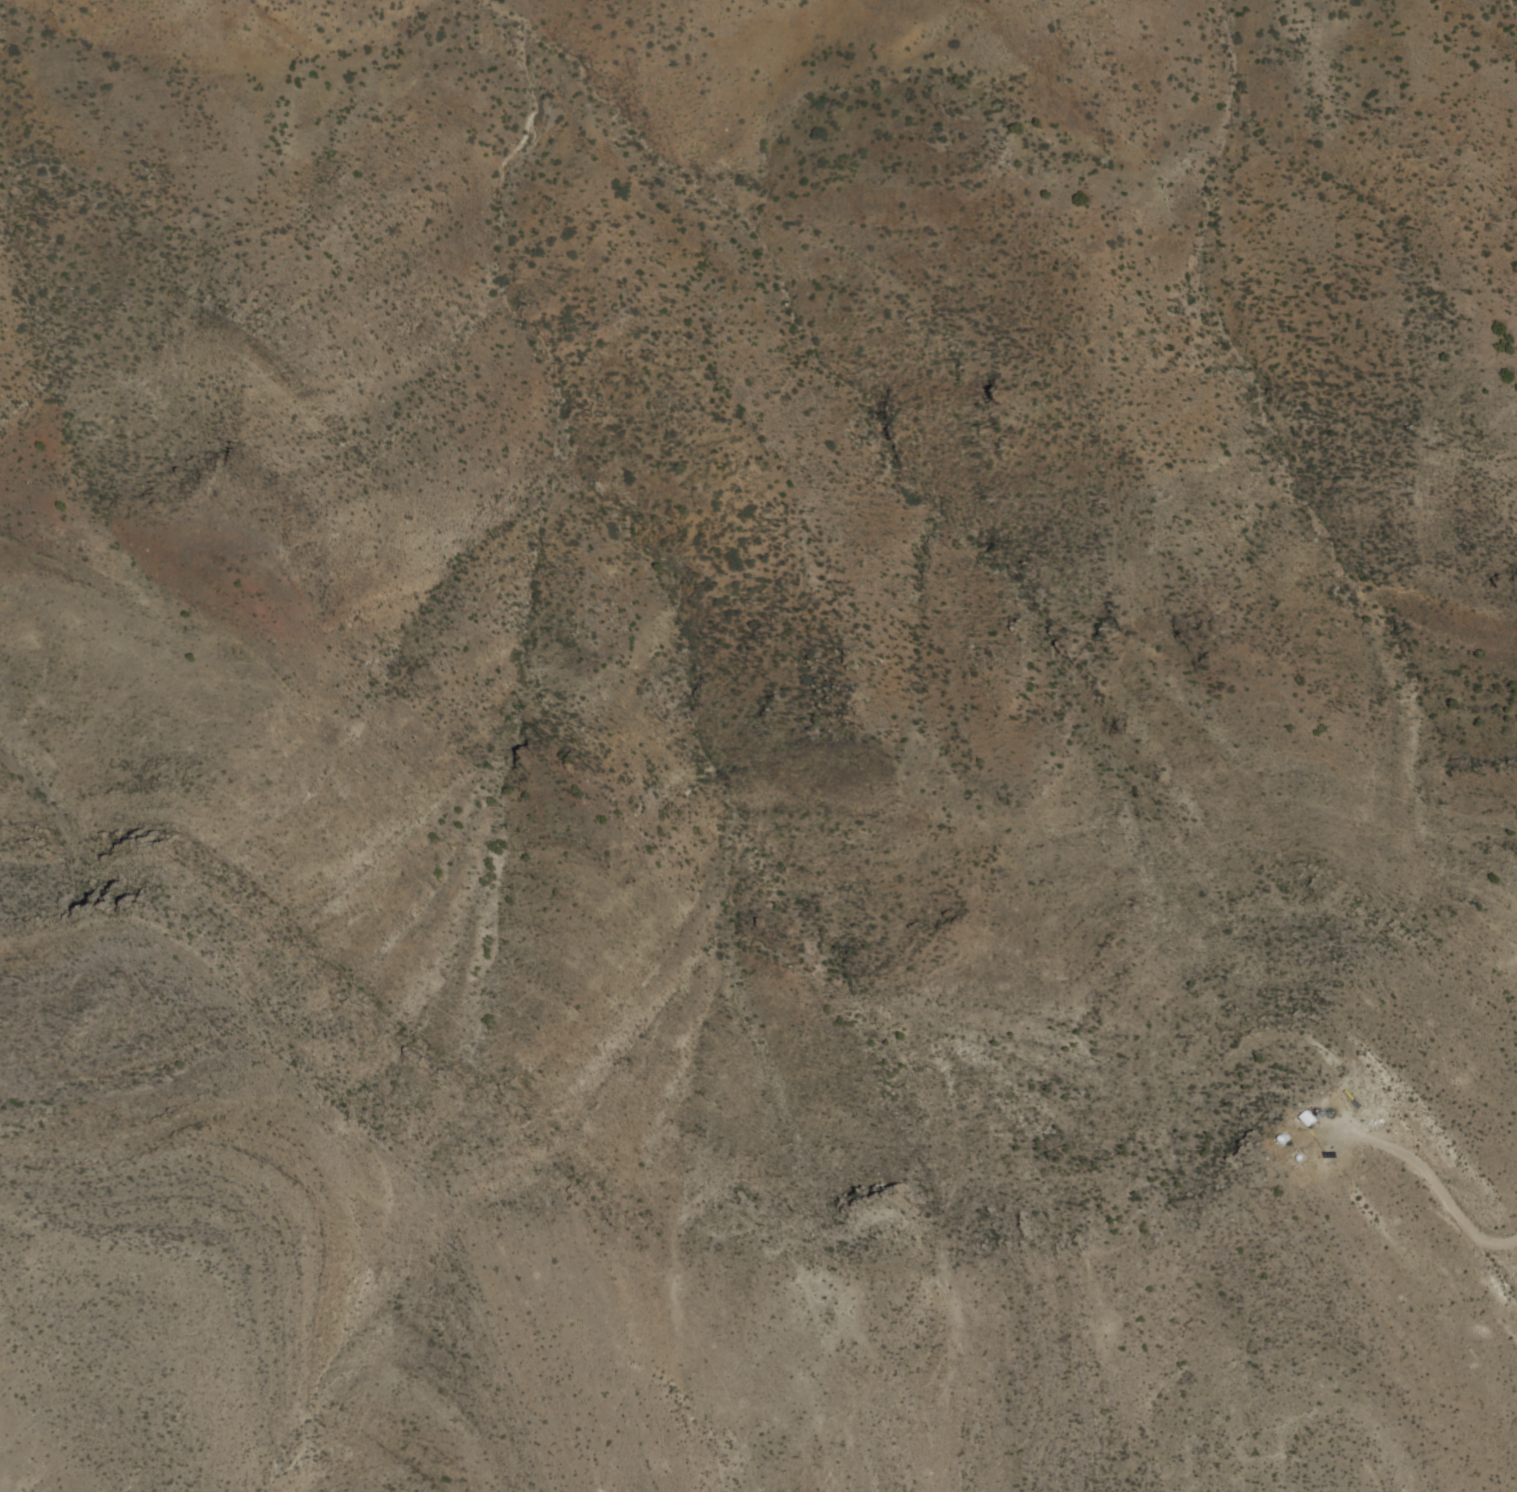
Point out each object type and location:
road: (1423, 1161)

